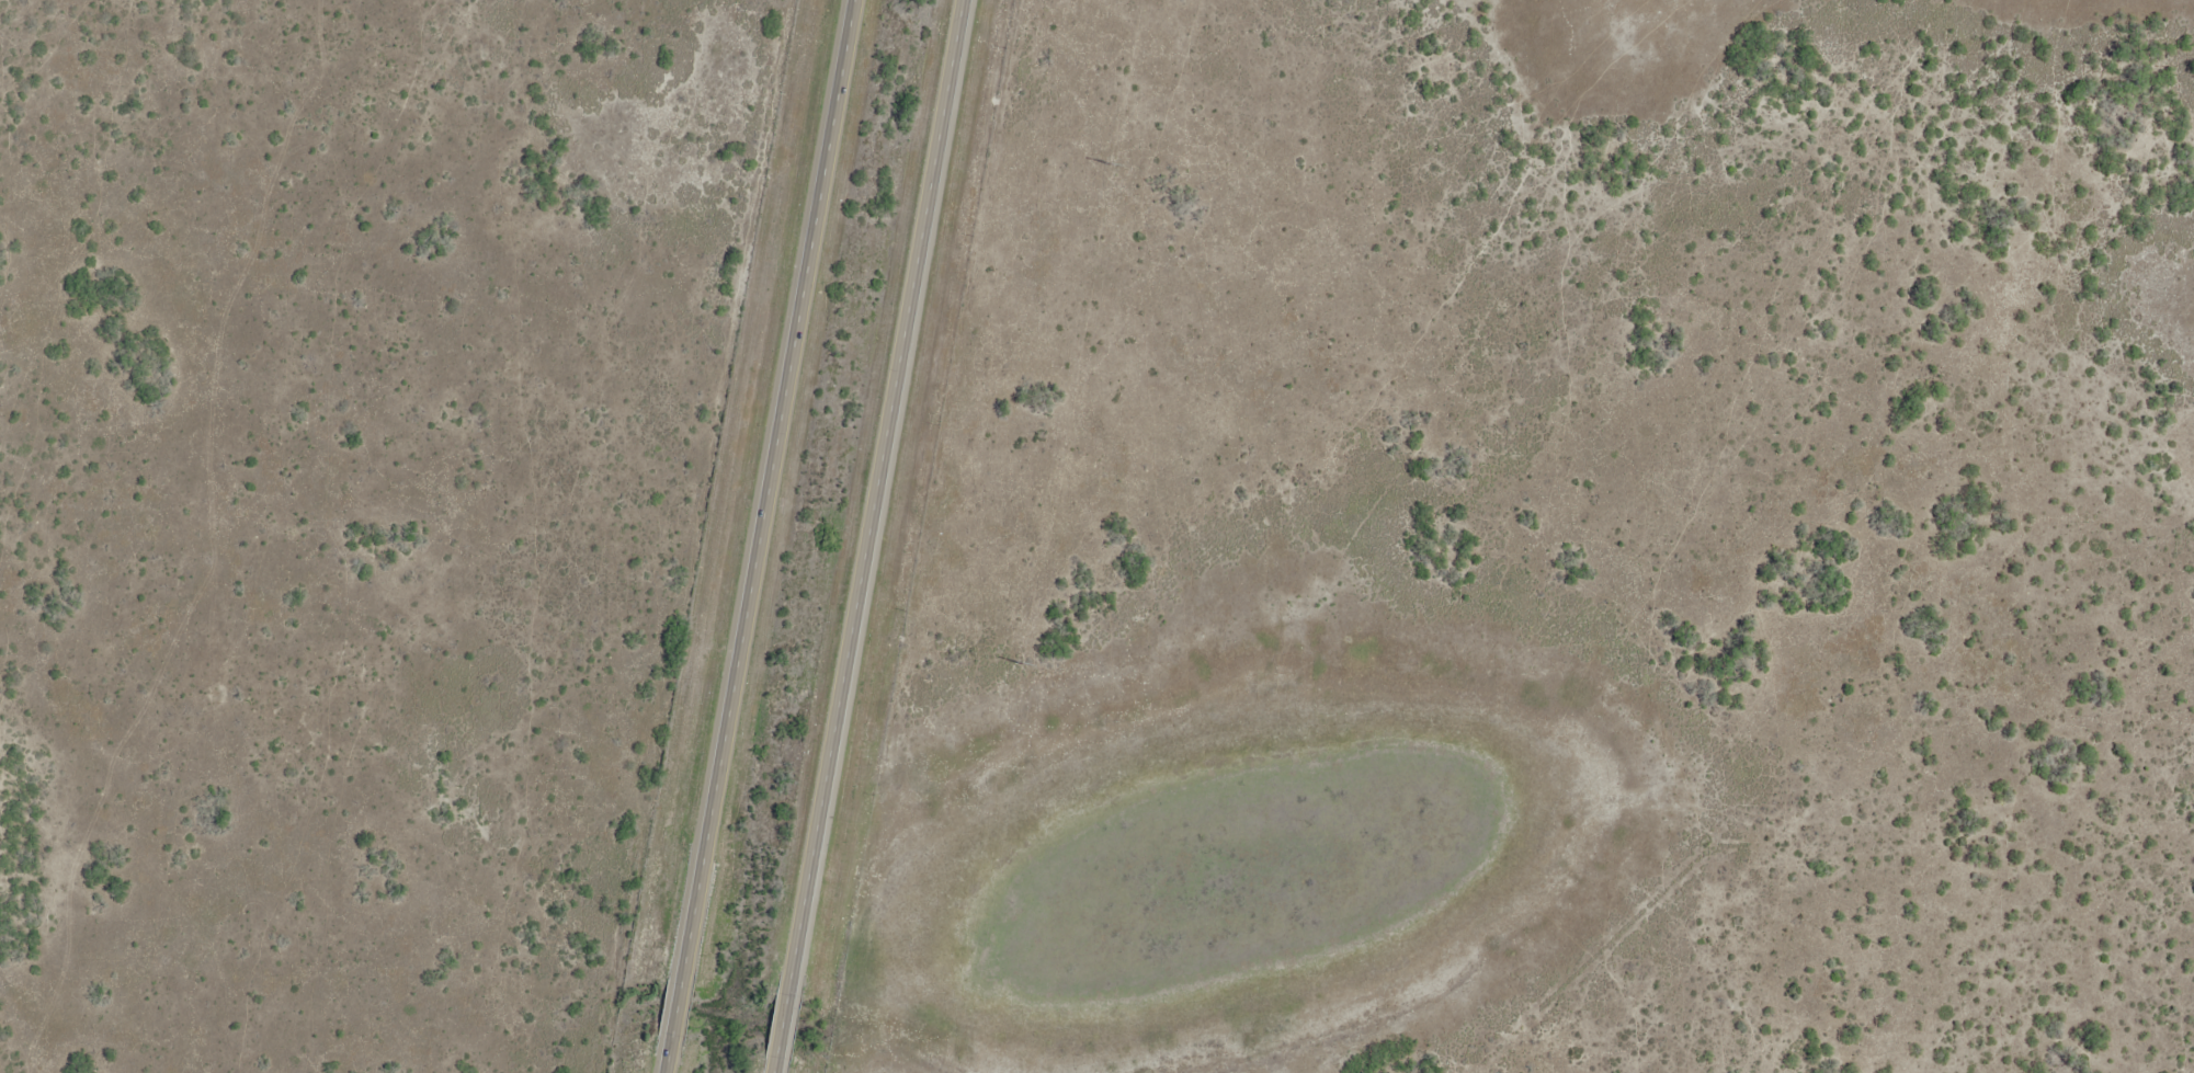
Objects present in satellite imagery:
power tower: (1113, 164)
road: (763, 536)
road: (871, 536)
power tower: (1024, 663)

